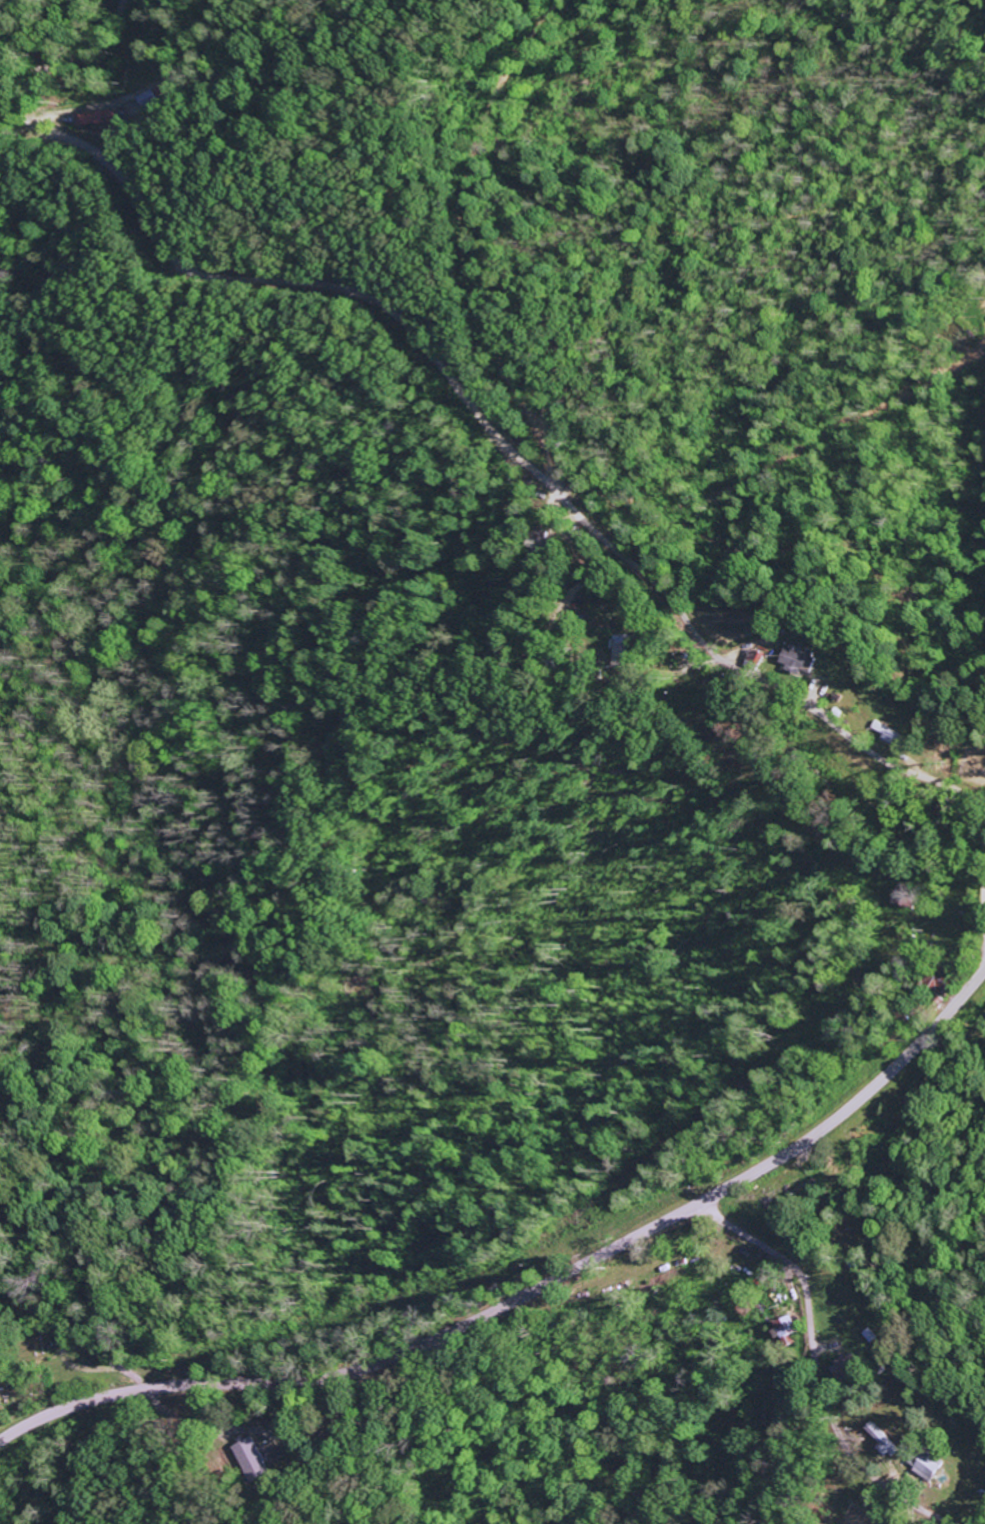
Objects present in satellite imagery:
road: (70, 58)
road: (548, 485)
building: (755, 659)
building: (798, 660)
road: (984, 943)
road: (532, 1290)
building: (780, 1331)
road: (96, 1352)
building: (840, 1367)
road: (809, 1369)
road: (90, 1370)
road: (136, 1383)
building: (877, 1441)
building: (249, 1460)
building: (926, 1464)

